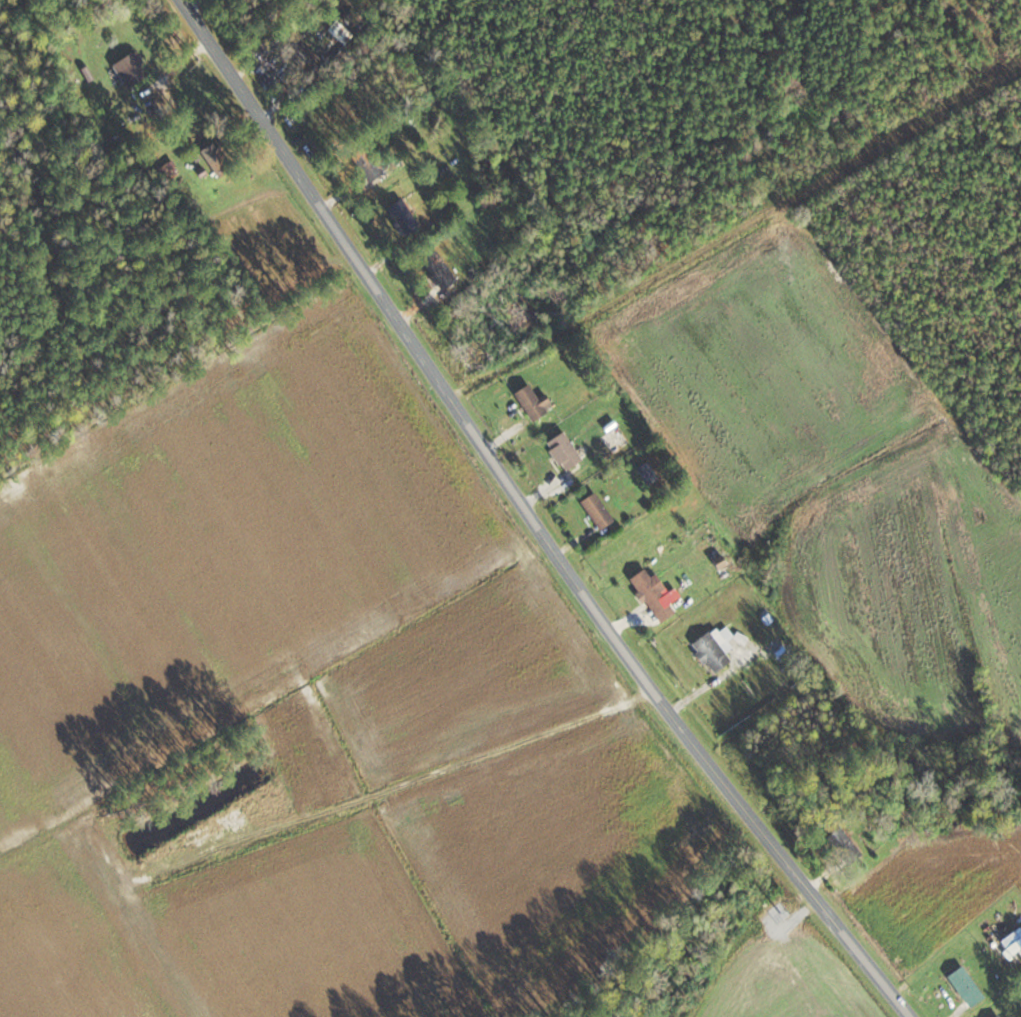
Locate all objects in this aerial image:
building: (300, 53)
building: (130, 69)
building: (367, 162)
building: (167, 172)
building: (404, 216)
road: (736, 231)
building: (438, 270)
building: (472, 358)
building: (533, 403)
building: (563, 451)
building: (597, 510)
road: (533, 516)
building: (652, 589)
building: (714, 650)
building: (529, 787)
building: (454, 801)
building: (844, 846)
building: (966, 986)
building: (1001, 1016)

